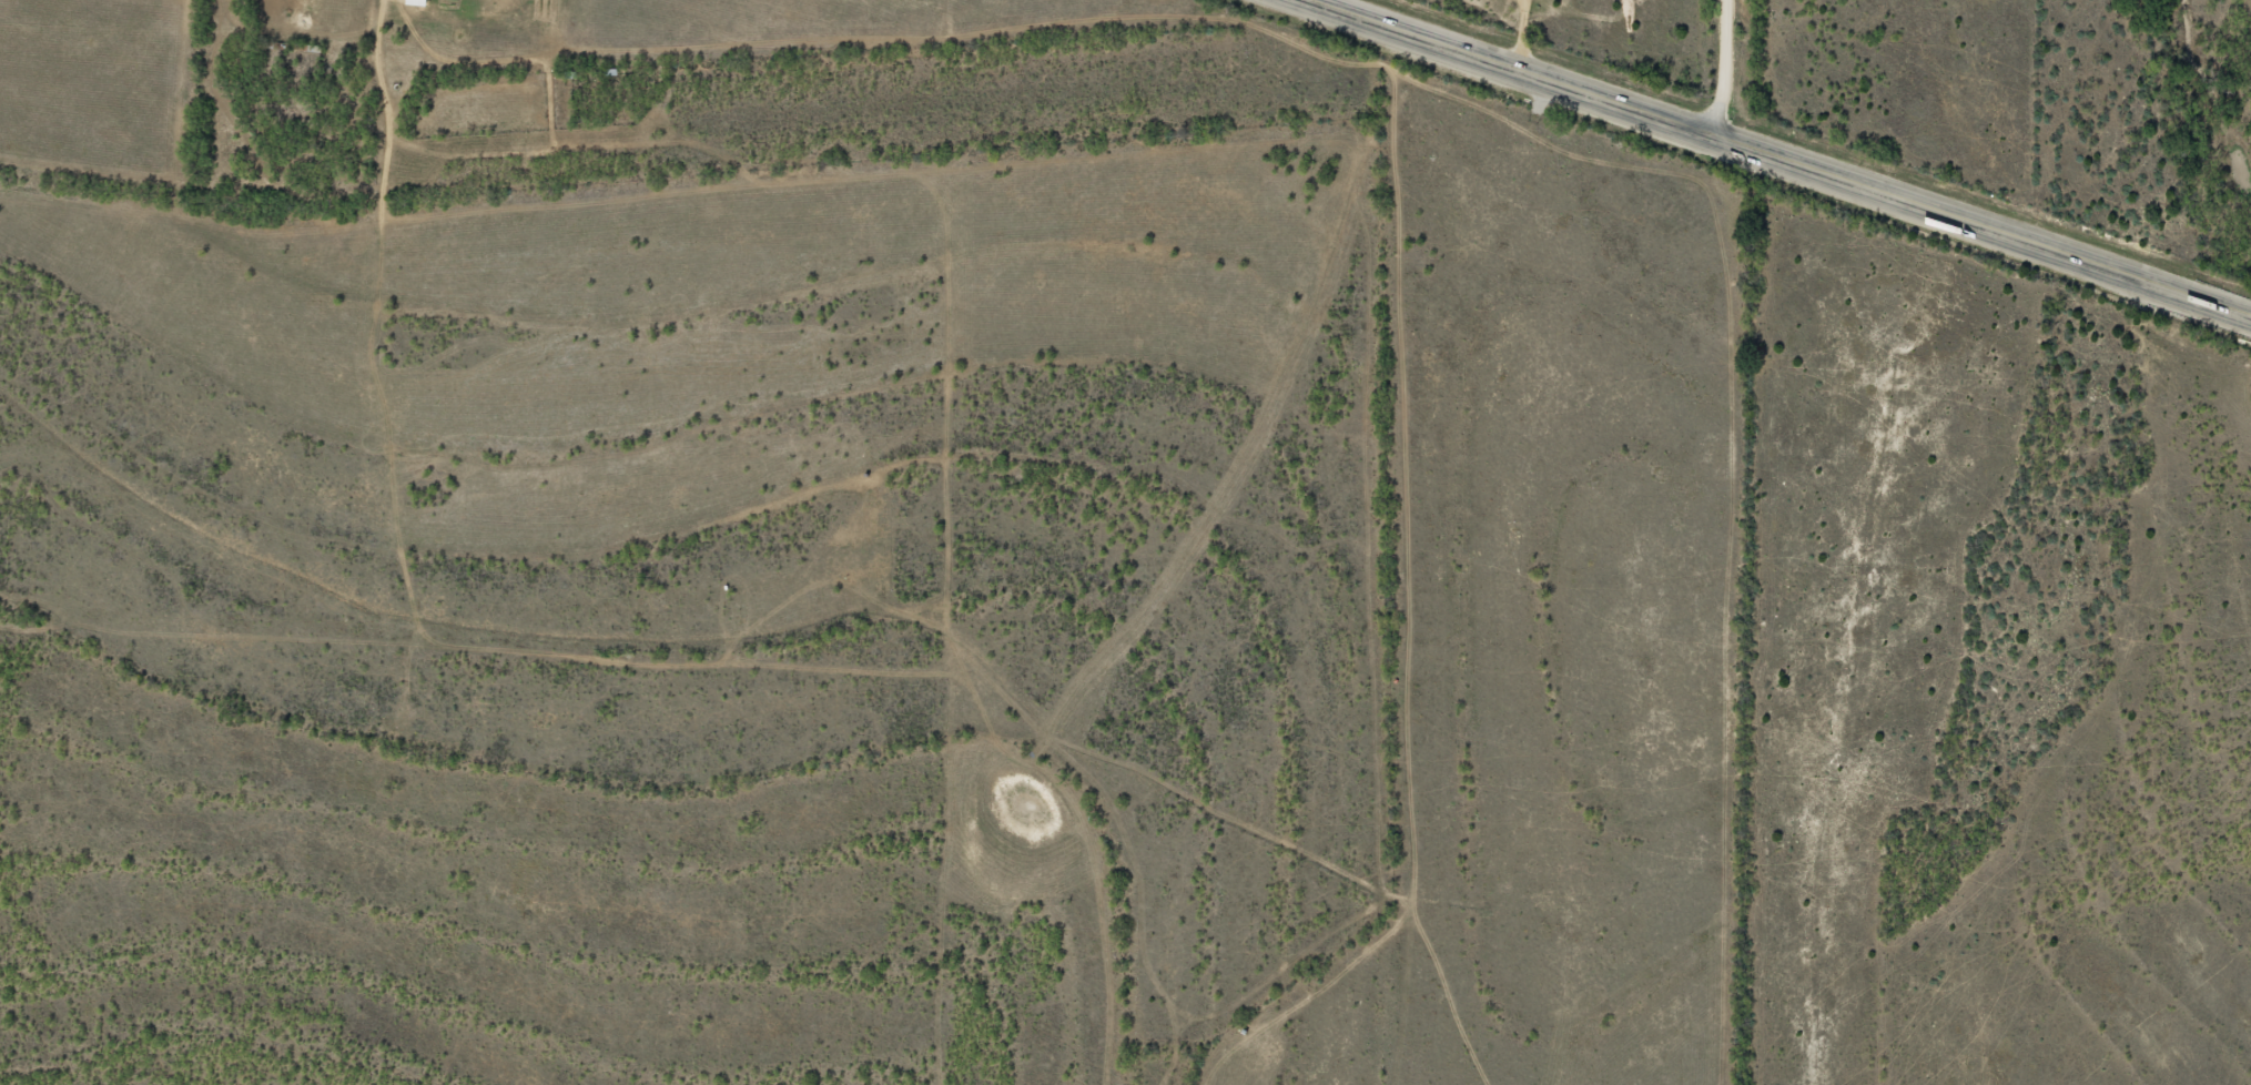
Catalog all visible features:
road: (1723, 70)
road: (1775, 159)

